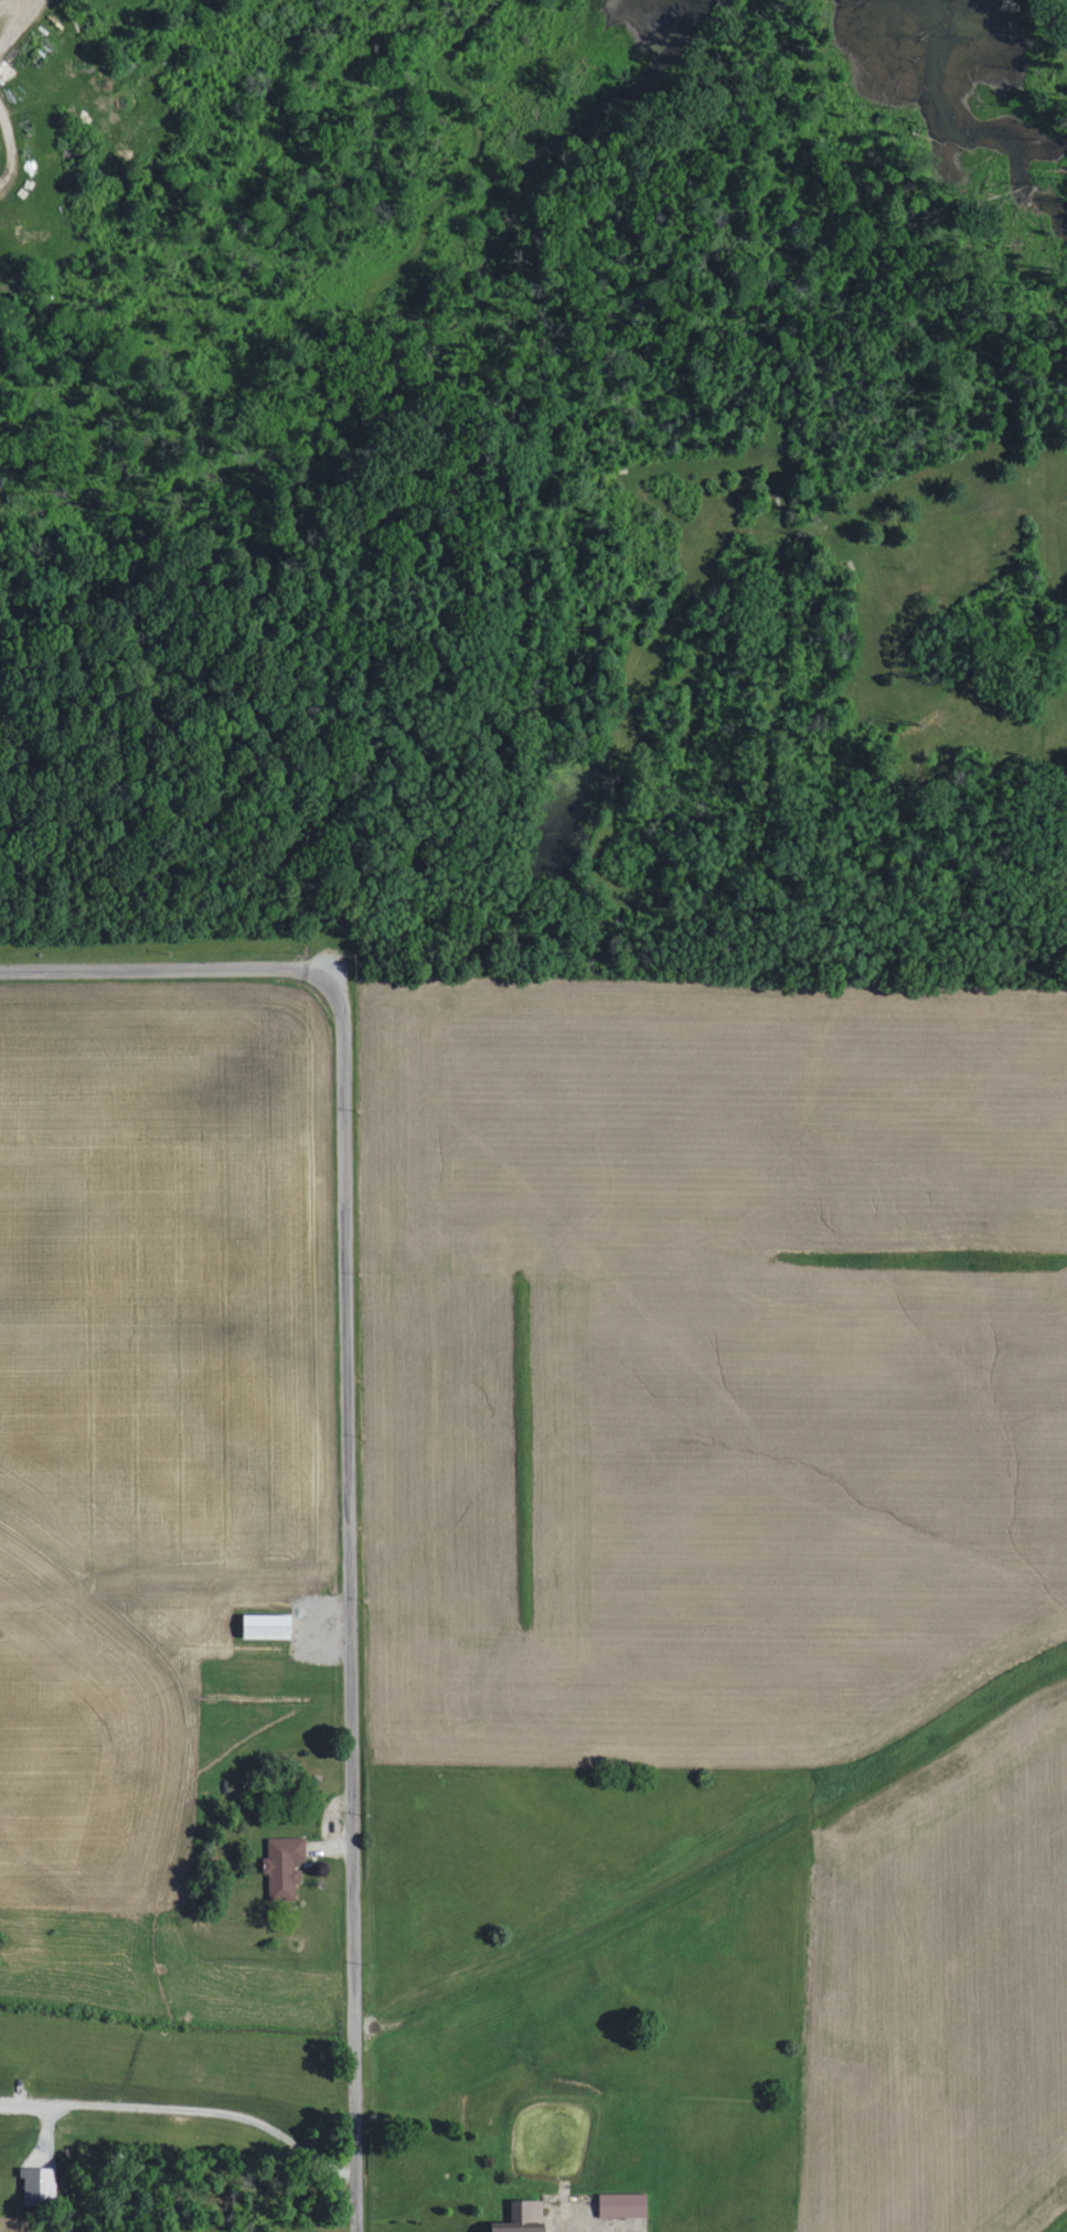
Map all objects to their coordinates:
road: (17, 22)
road: (10, 149)
road: (471, 158)
road: (776, 891)
road: (159, 968)
road: (349, 1600)
building: (268, 1625)
building: (282, 1865)
building: (39, 2186)
building: (622, 2204)
building: (523, 2217)

